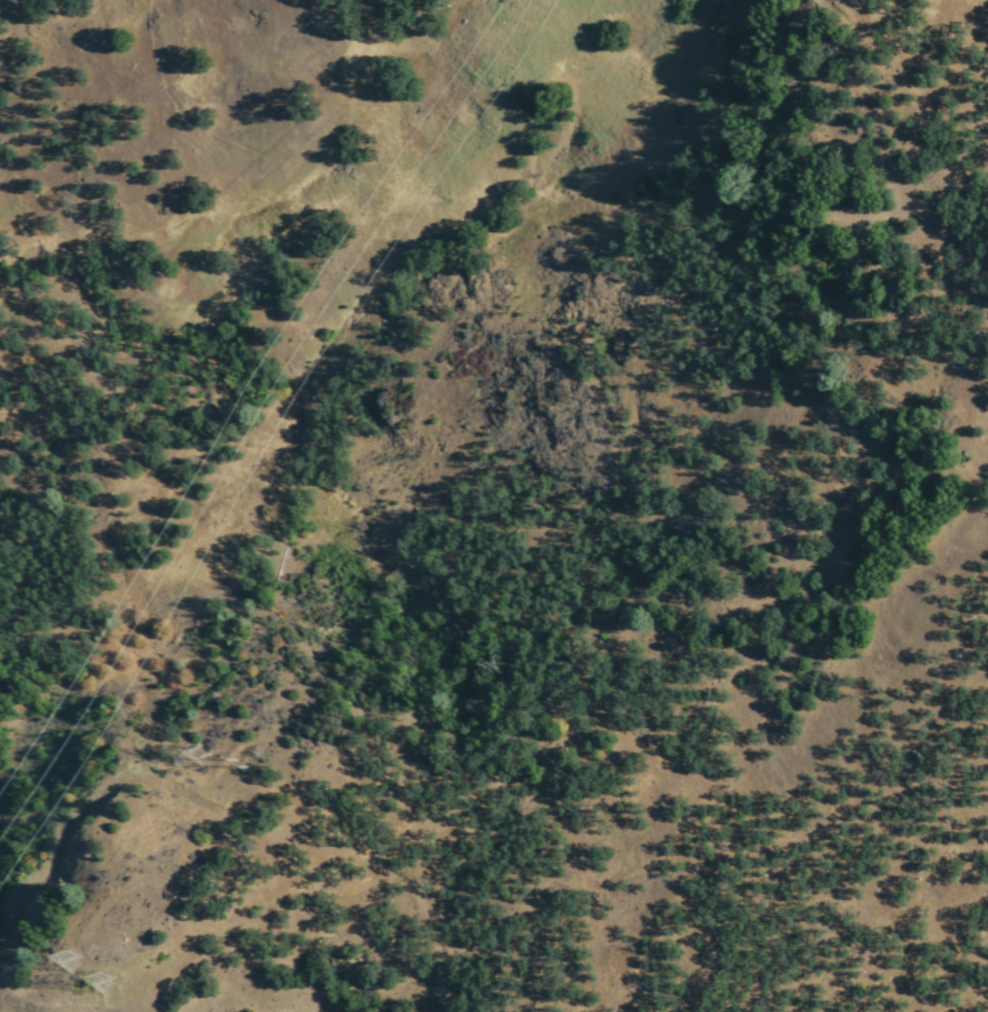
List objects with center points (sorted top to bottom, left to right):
power tower: (199, 761)
power tower: (243, 769)
power tower: (72, 967)
power tower: (108, 984)

